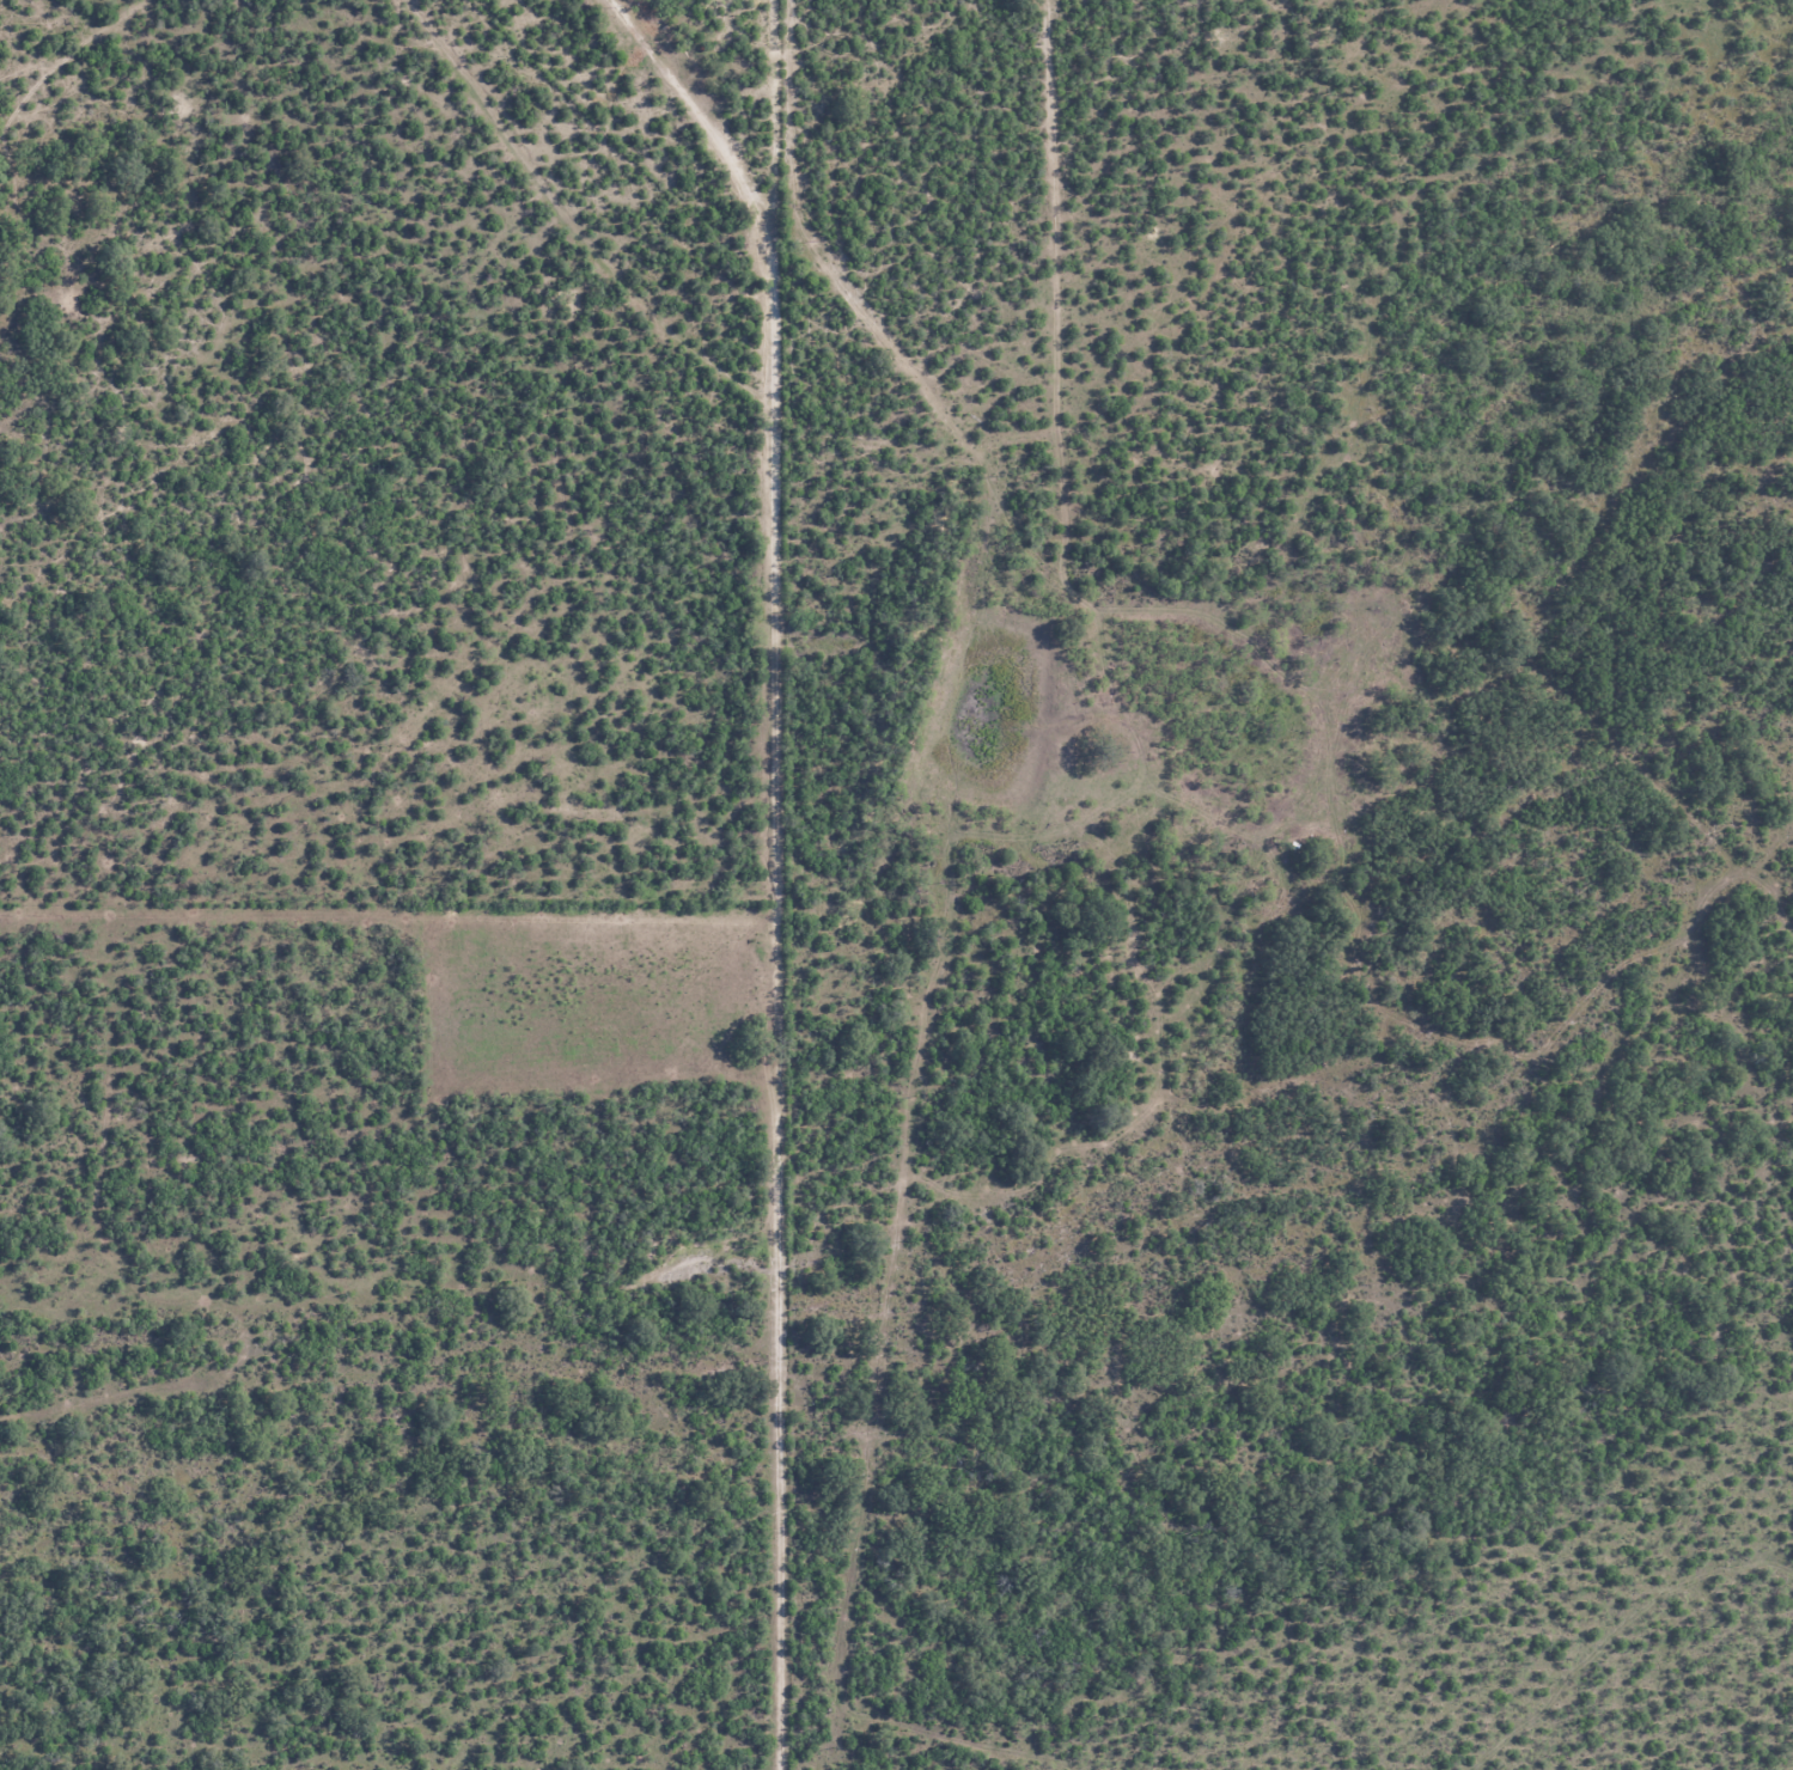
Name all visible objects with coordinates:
road: (775, 861)

